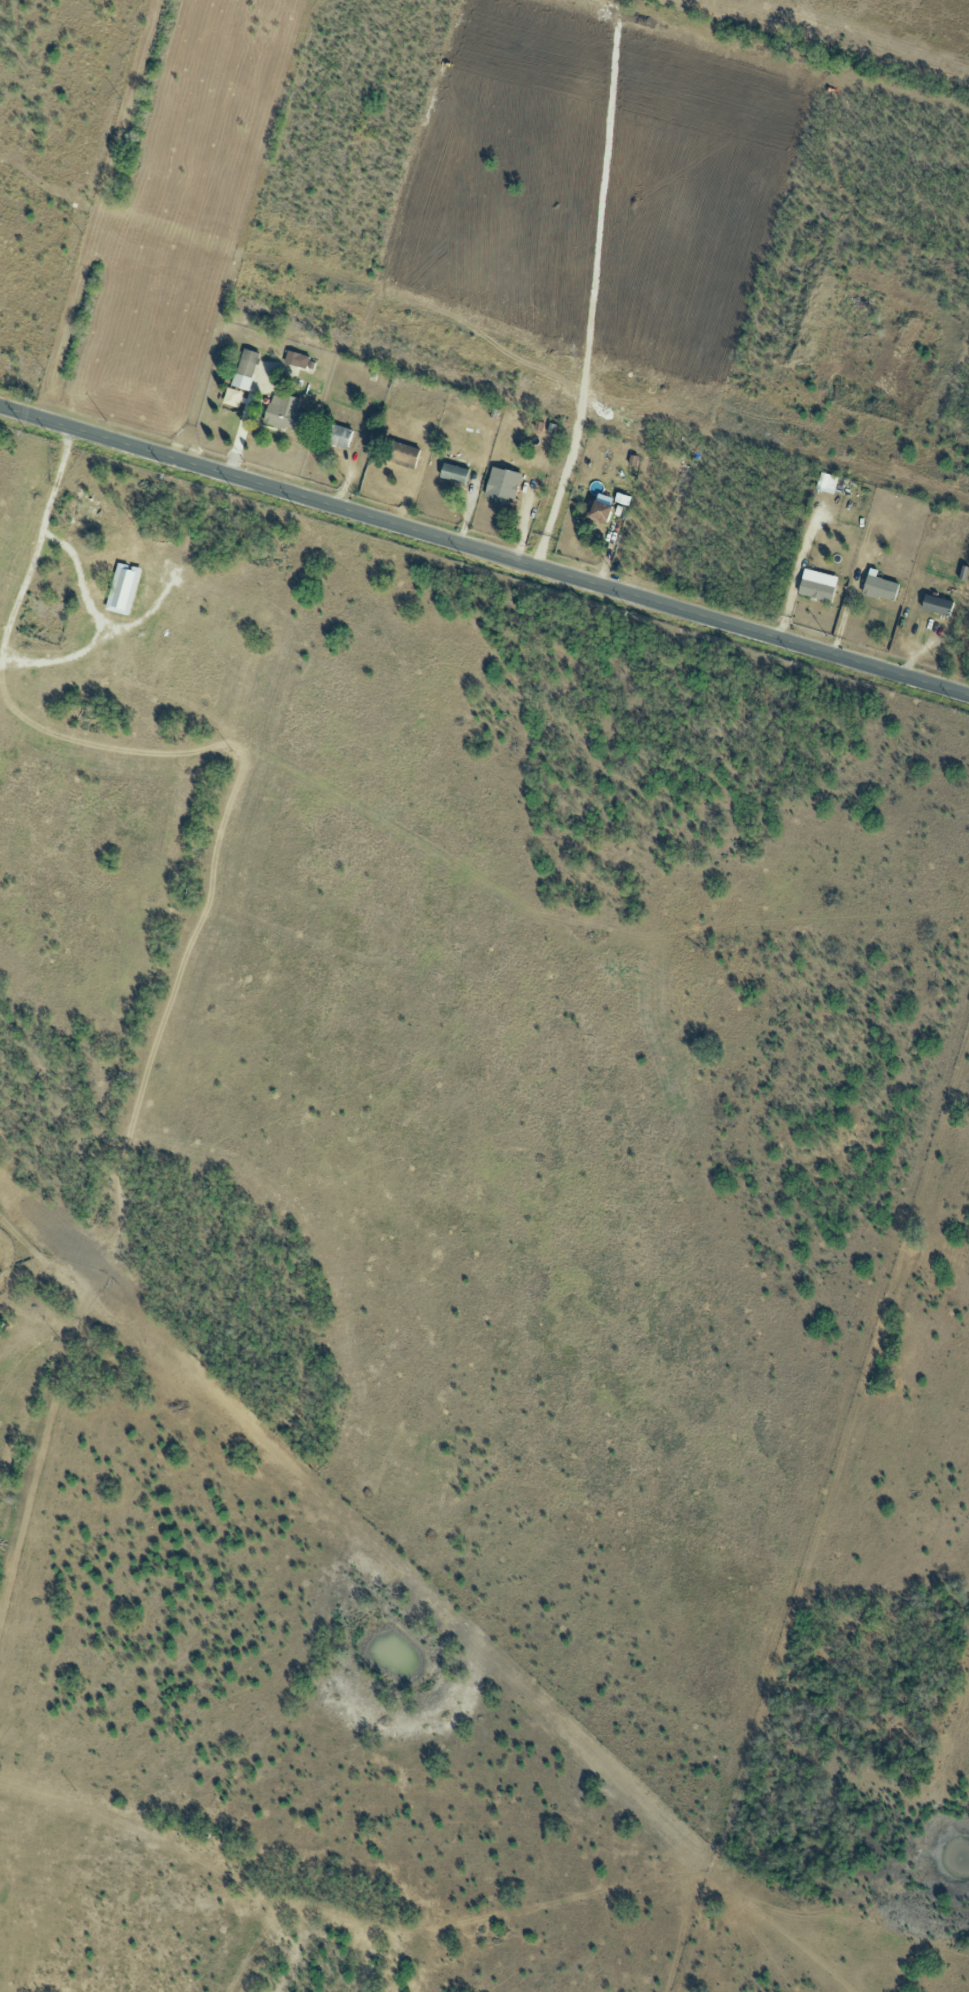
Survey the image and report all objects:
building: (295, 359)
building: (245, 369)
building: (232, 397)
building: (282, 412)
building: (335, 435)
building: (402, 453)
building: (453, 473)
building: (826, 483)
building: (502, 484)
building: (598, 512)
road: (39, 537)
road: (484, 550)
building: (816, 585)
building: (878, 587)
building: (122, 589)
building: (936, 606)

